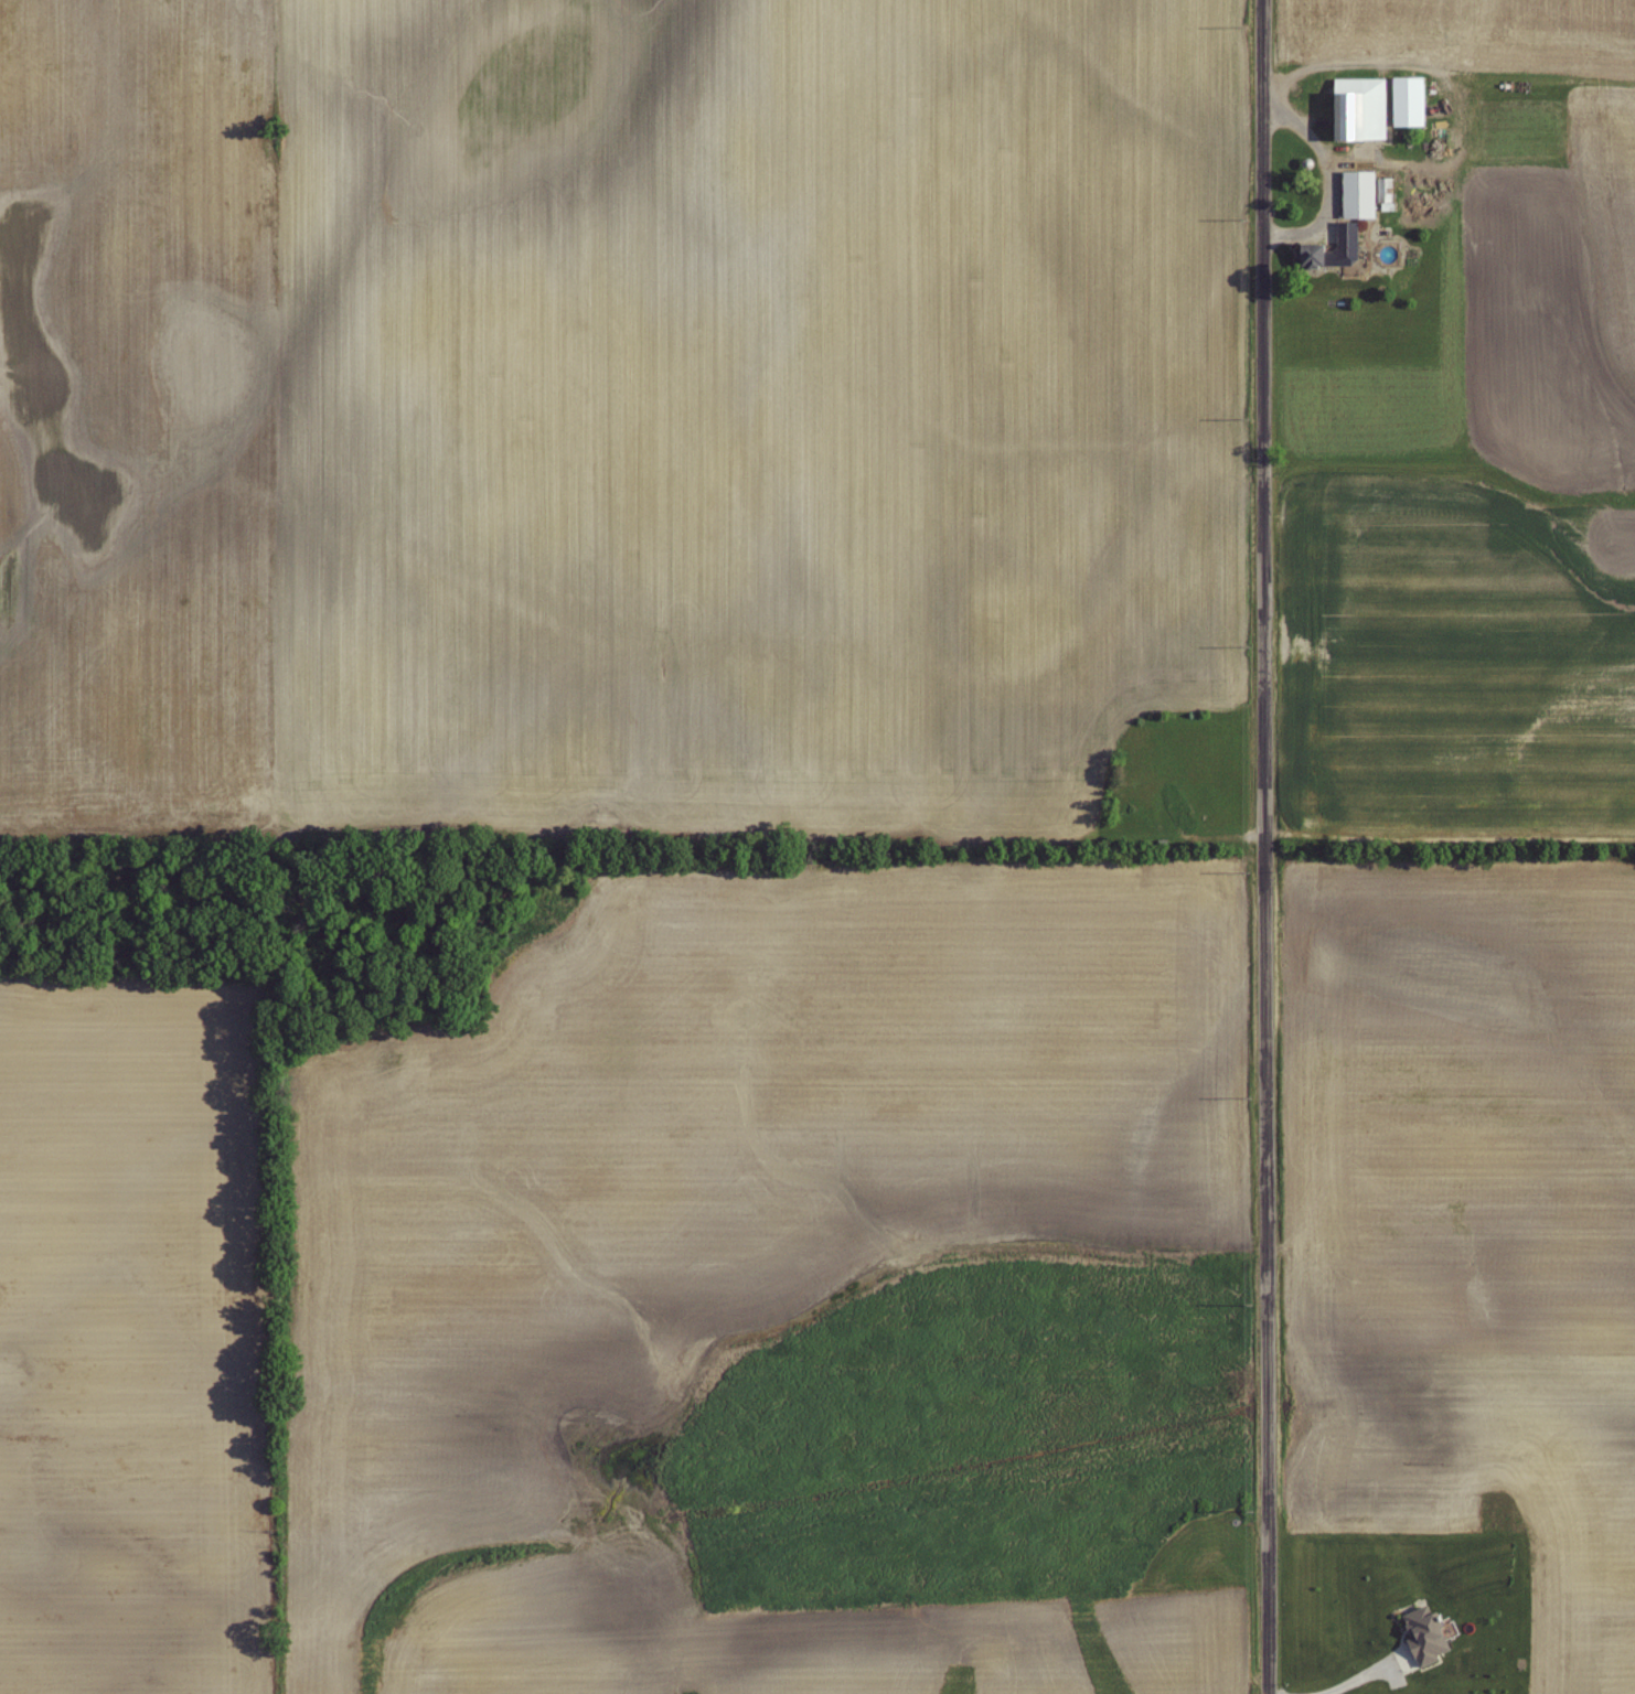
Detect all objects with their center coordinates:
crop: (1464, 33)
road: (1295, 120)
road: (1327, 201)
crop: (1499, 311)
crop: (740, 409)
crop: (136, 420)
crop: (1465, 654)
road: (1265, 846)
crop: (738, 1157)
crop: (1472, 1225)
crop: (131, 1342)
crop: (722, 1639)

